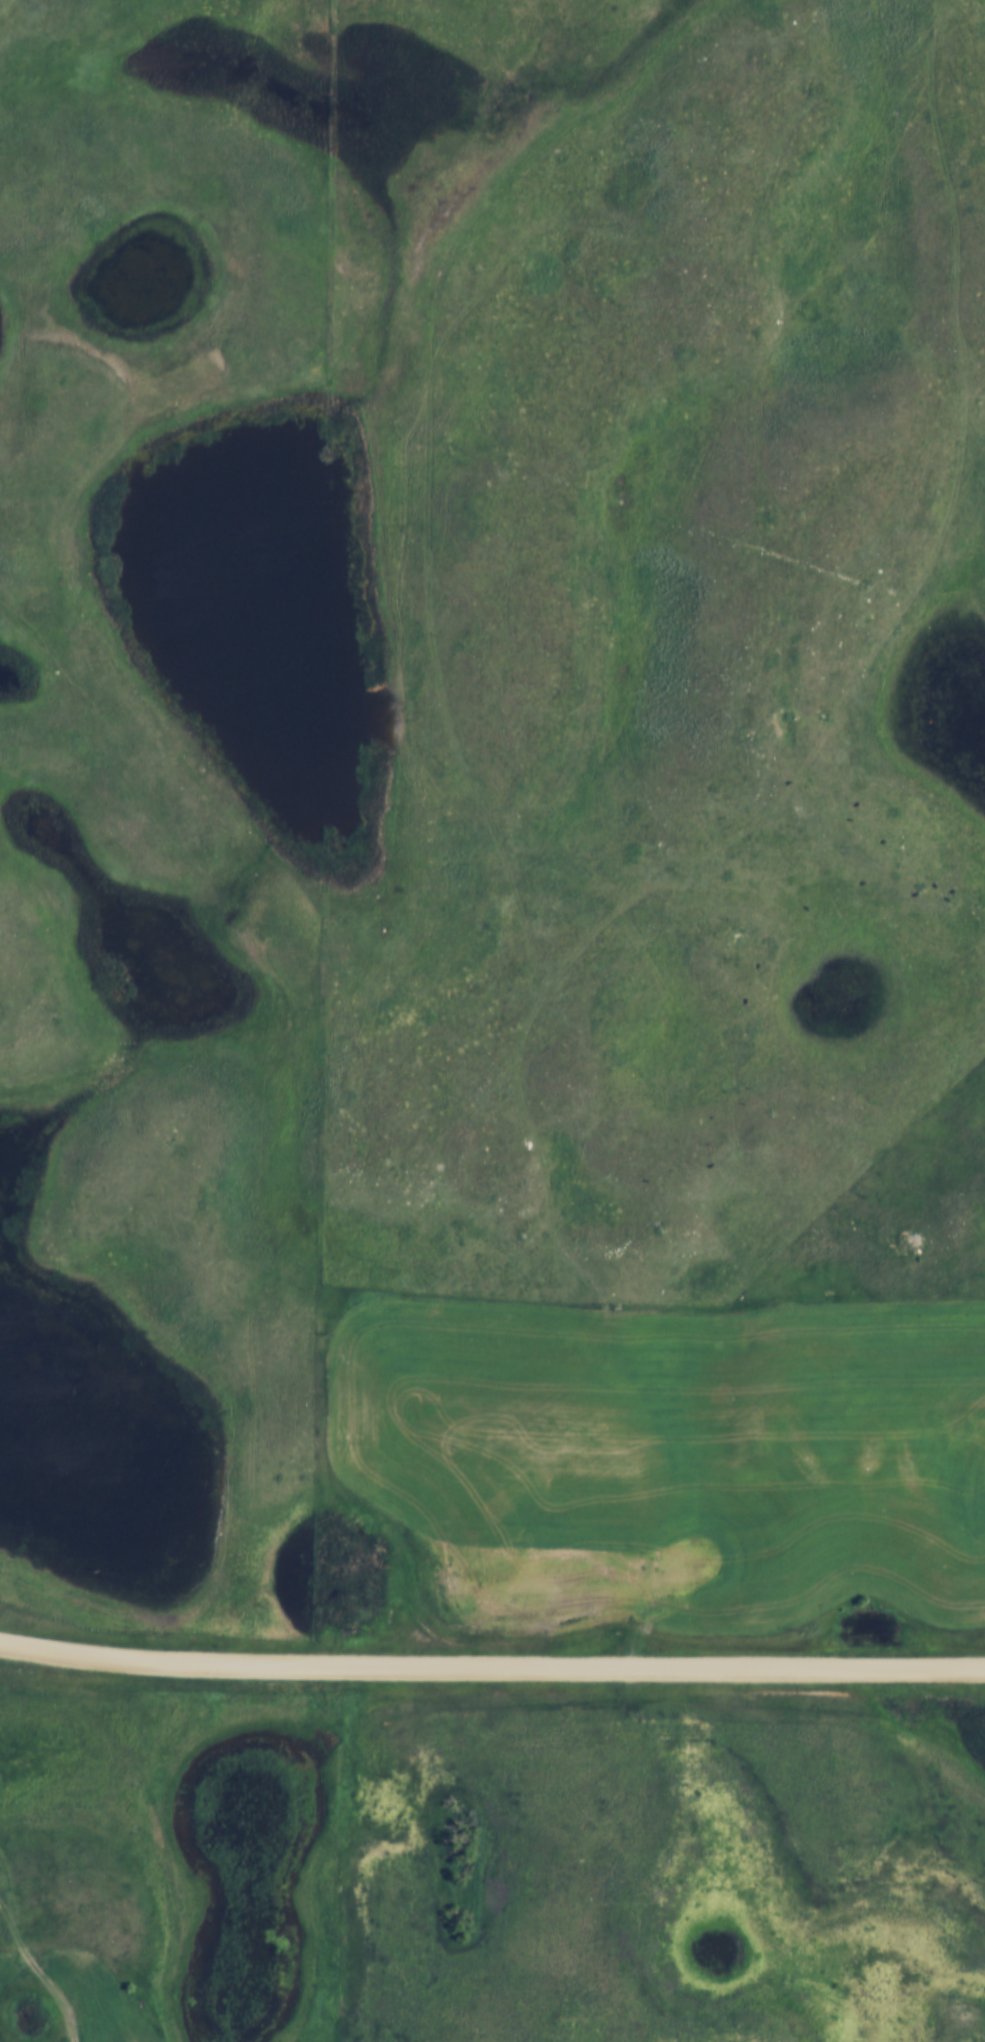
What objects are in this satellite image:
road: (491, 1667)
road: (154, 1829)

